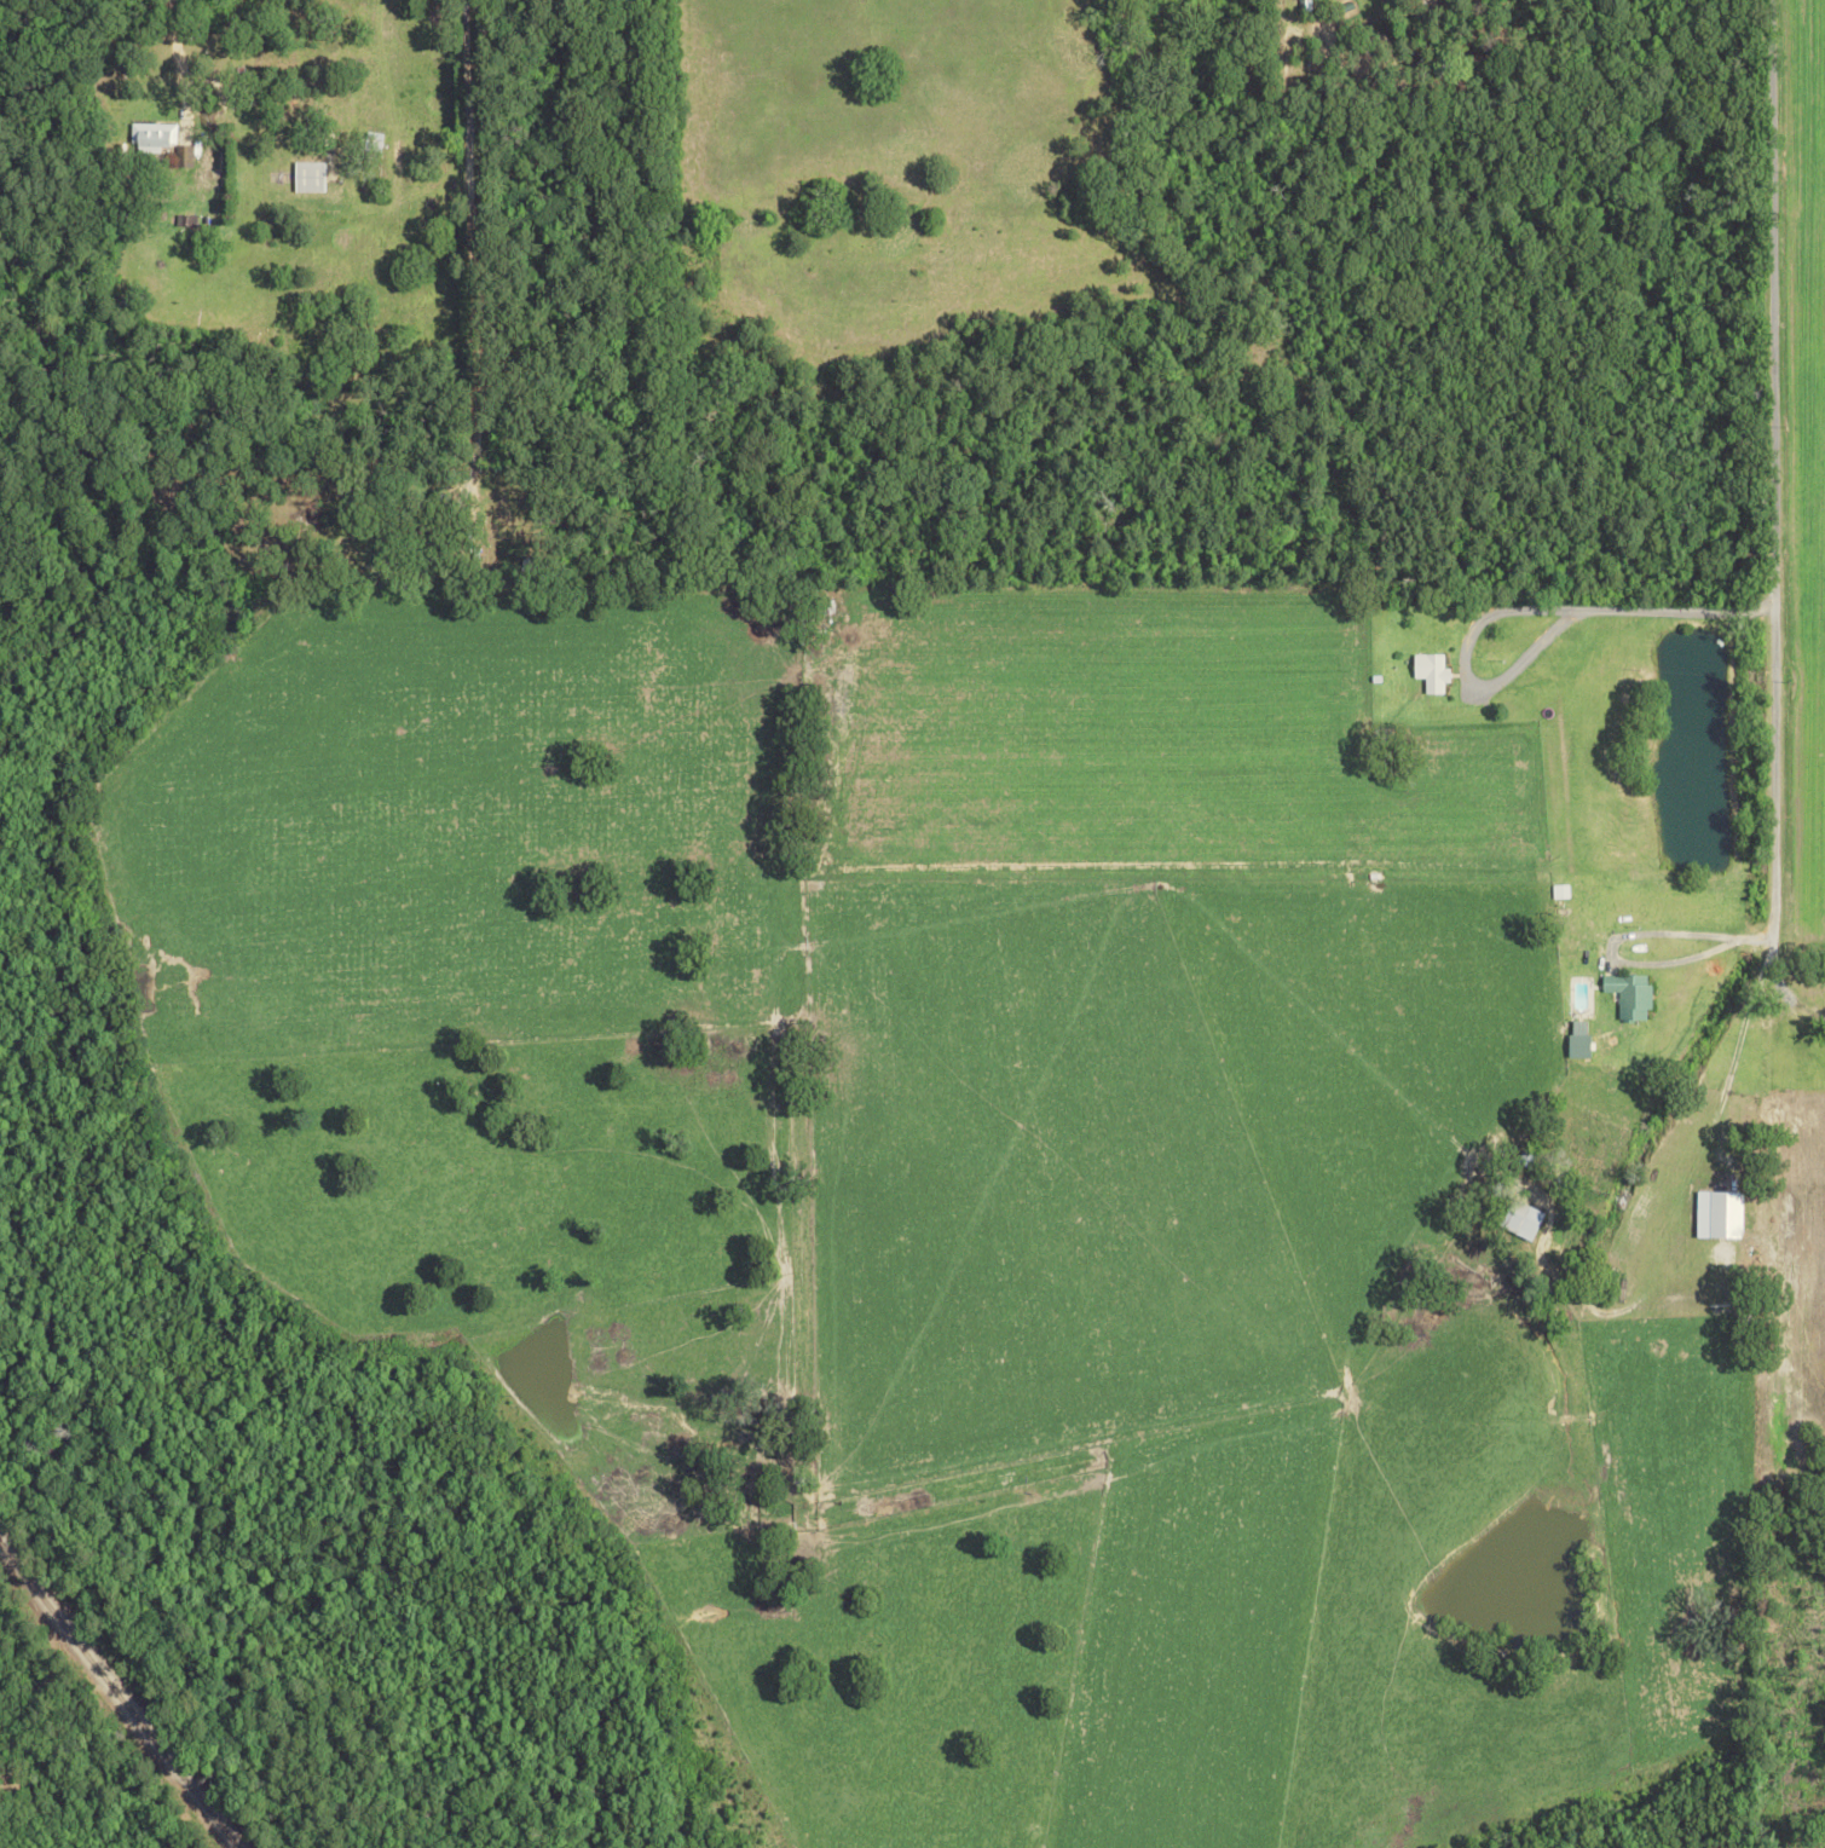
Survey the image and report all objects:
road: (172, 35)
building: (152, 135)
building: (307, 177)
road: (468, 225)
road: (1763, 464)
road: (1523, 607)
building: (1431, 672)
road: (1606, 935)
road: (1777, 982)
building: (1629, 994)
road: (1708, 1118)
building: (1726, 1213)
building: (1523, 1219)
railway: (116, 1697)

